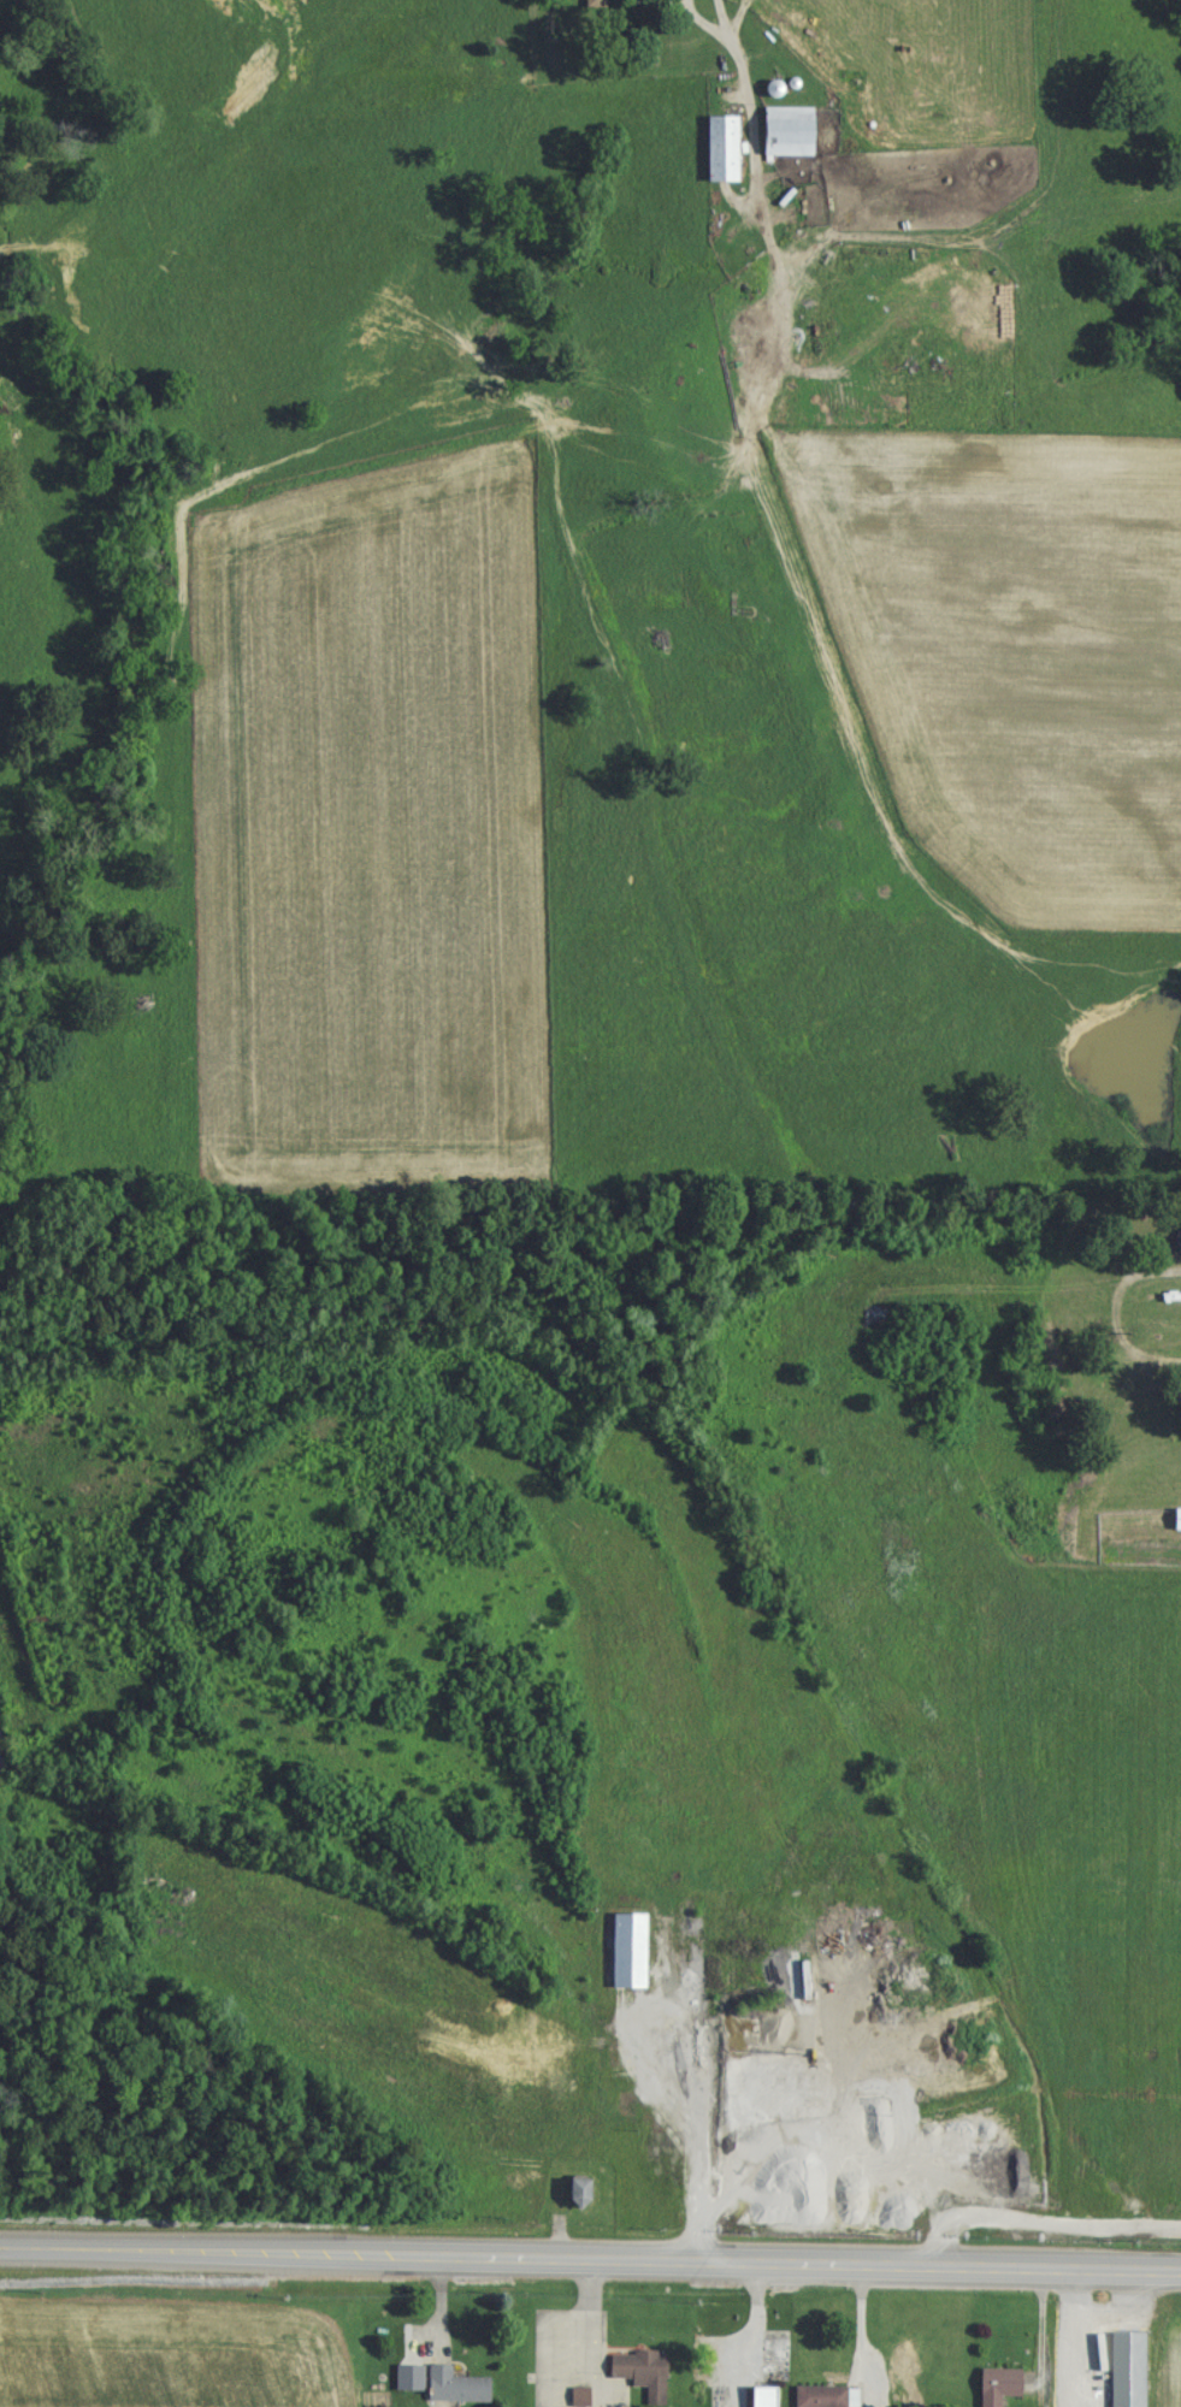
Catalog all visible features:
building: (594, 8)
road: (718, 18)
road: (743, 93)
building: (785, 140)
building: (719, 156)
building: (626, 1959)
building: (574, 2202)
road: (590, 2264)
building: (1126, 2373)
building: (639, 2378)
building: (997, 2390)
building: (453, 2393)
building: (820, 2400)

